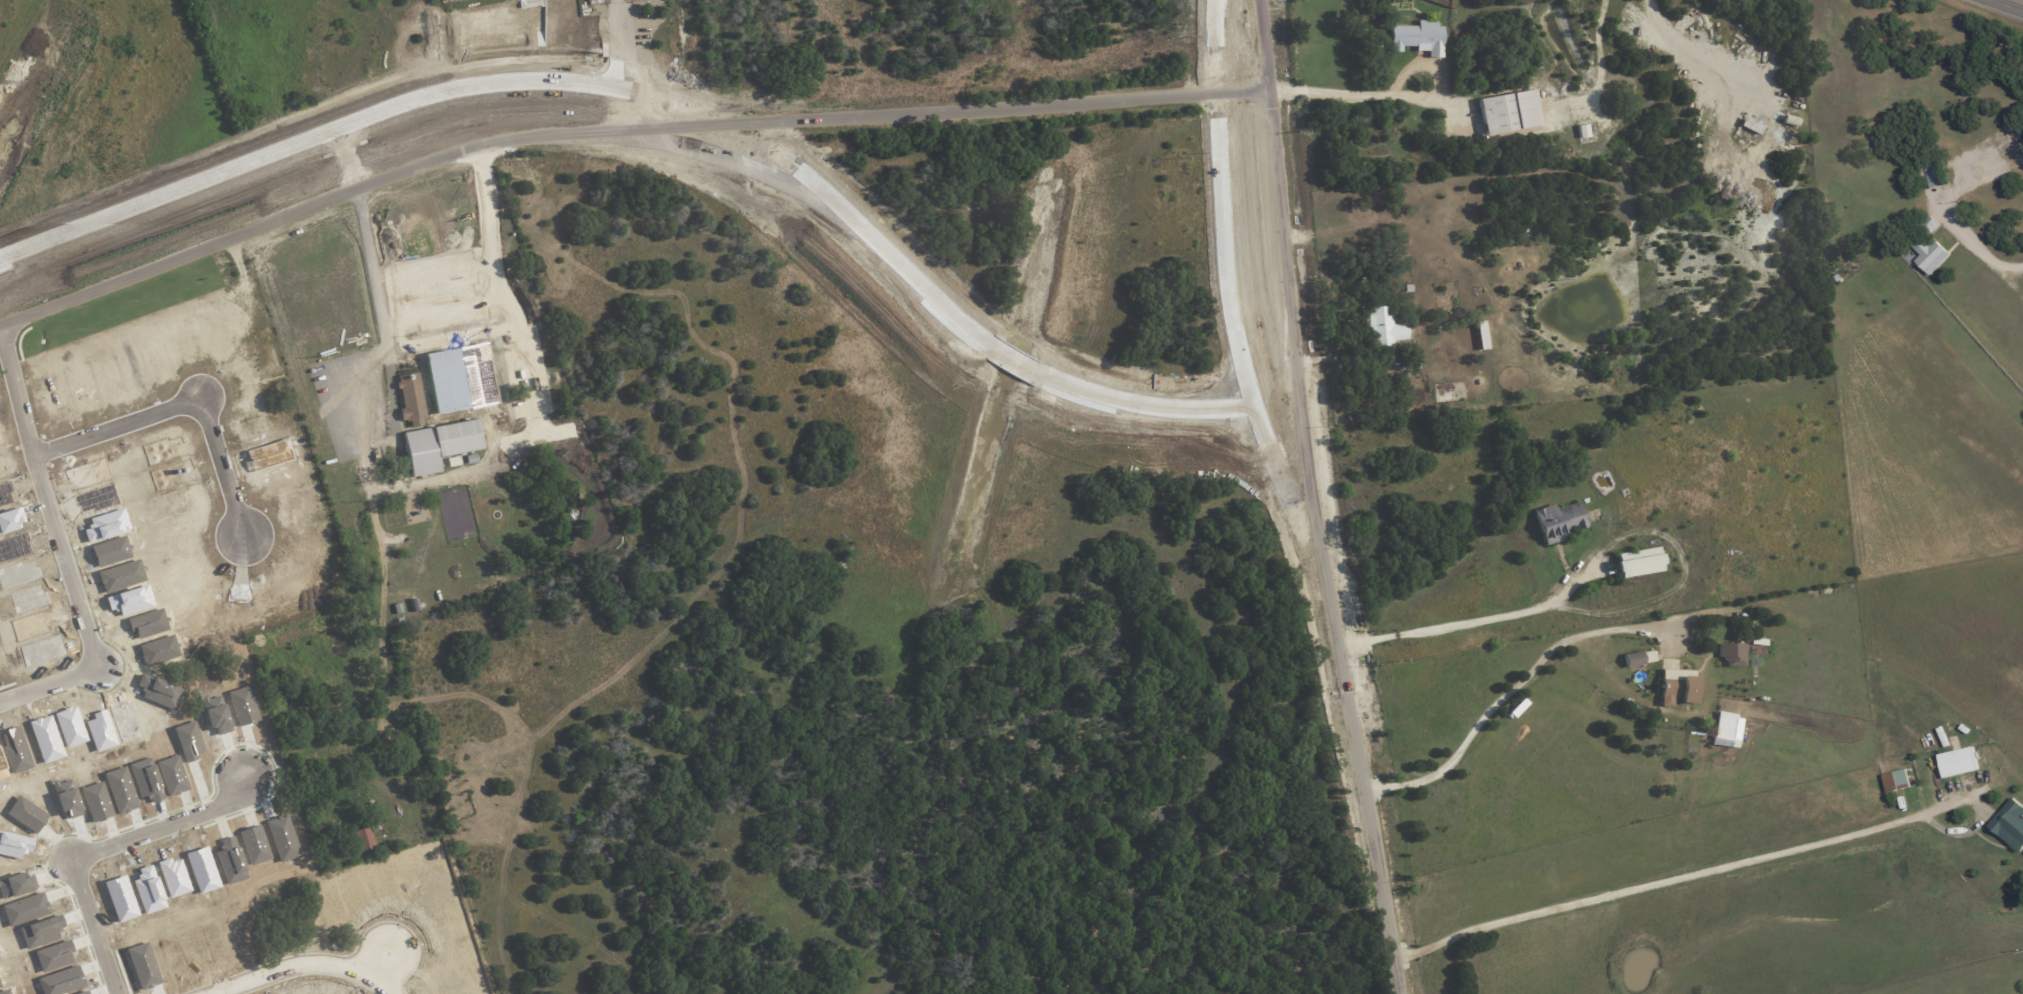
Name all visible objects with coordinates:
road: (2021, 0)
road: (1263, 20)
building: (1418, 38)
road: (617, 44)
road: (1421, 66)
road: (1267, 85)
road: (432, 93)
road: (1366, 95)
road: (976, 108)
building: (1508, 112)
building: (1750, 126)
road: (347, 155)
building: (1935, 175)
road: (1221, 201)
road: (237, 226)
road: (1976, 245)
road: (1282, 248)
building: (1928, 254)
road: (921, 277)
road: (449, 288)
building: (1382, 327)
building: (1481, 335)
road: (1017, 359)
road: (343, 368)
building: (410, 397)
road: (1145, 401)
road: (184, 403)
building: (502, 412)
building: (438, 445)
building: (1557, 522)
road: (61, 550)
building: (1637, 562)
road: (1468, 621)
building: (159, 650)
building: (1732, 653)
building: (1633, 659)
building: (1676, 685)
road: (1349, 689)
building: (159, 691)
road: (1510, 691)
building: (243, 705)
building: (216, 714)
building: (125, 723)
building: (1726, 730)
road: (399, 731)
building: (188, 740)
building: (1958, 762)
building: (172, 775)
building: (146, 779)
building: (1896, 780)
building: (2010, 824)
building: (282, 837)
building: (362, 838)
building: (253, 844)
road: (99, 849)
building: (229, 861)
road: (1677, 879)
road: (302, 961)

